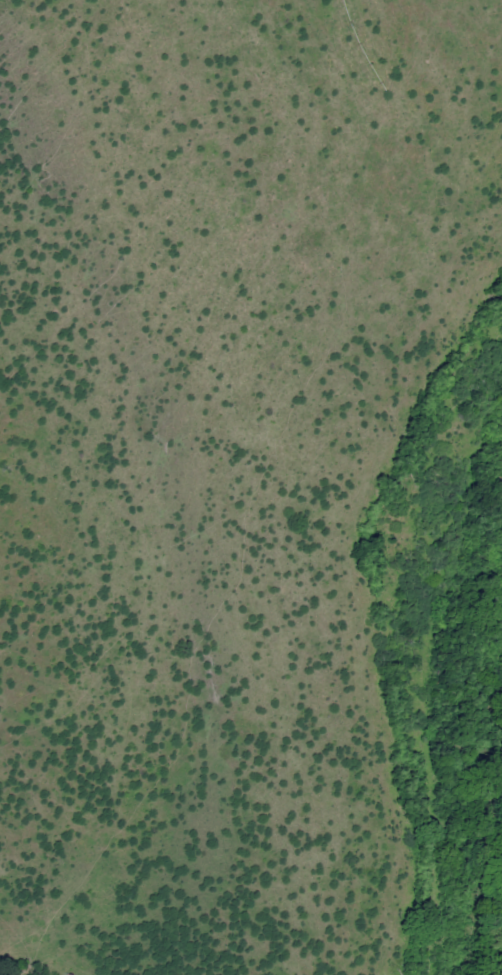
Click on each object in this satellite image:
road: (420, 408)

